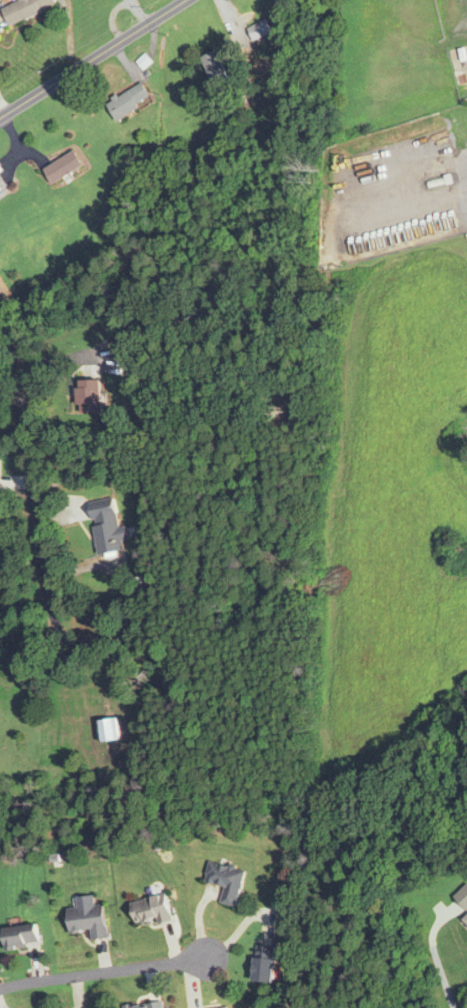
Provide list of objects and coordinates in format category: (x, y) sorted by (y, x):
building: (25, 9)
building: (258, 30)
building: (457, 55)
road: (94, 59)
building: (212, 66)
building: (129, 101)
building: (63, 167)
building: (0, 170)
building: (0, 187)
building: (88, 395)
road: (24, 453)
building: (107, 527)
building: (108, 730)
building: (225, 880)
building: (151, 910)
building: (87, 917)
building: (464, 919)
building: (21, 936)
building: (264, 963)
road: (437, 964)
road: (113, 971)
building: (145, 1005)
building: (231, 1007)

